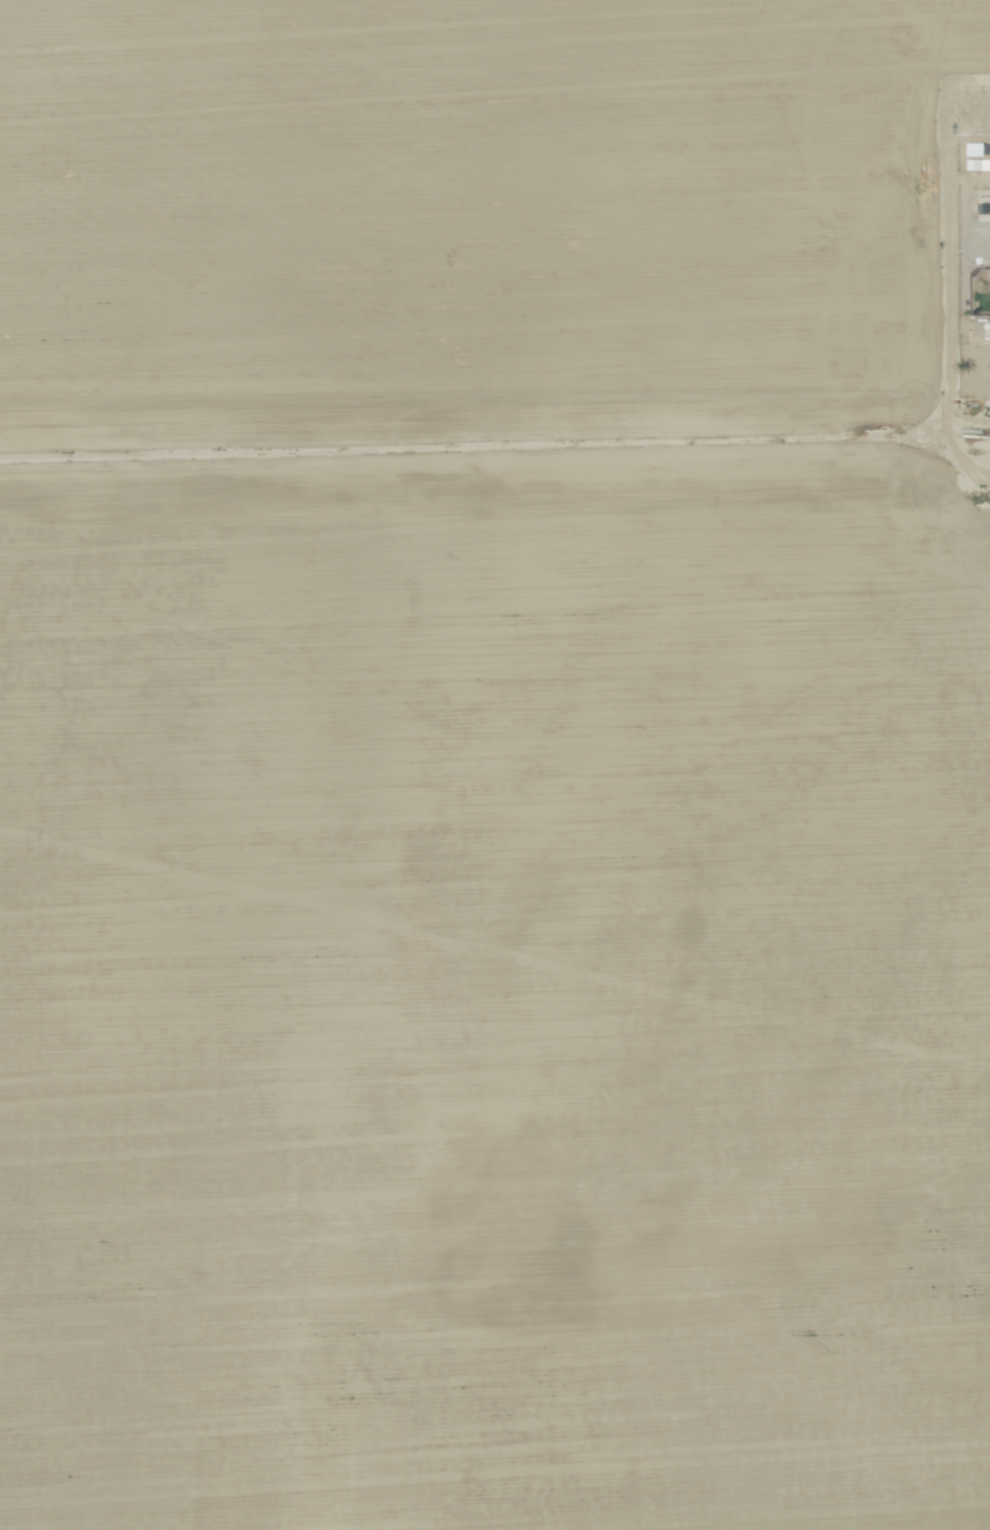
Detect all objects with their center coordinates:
road: (987, 253)
road: (495, 490)
road: (616, 1378)

